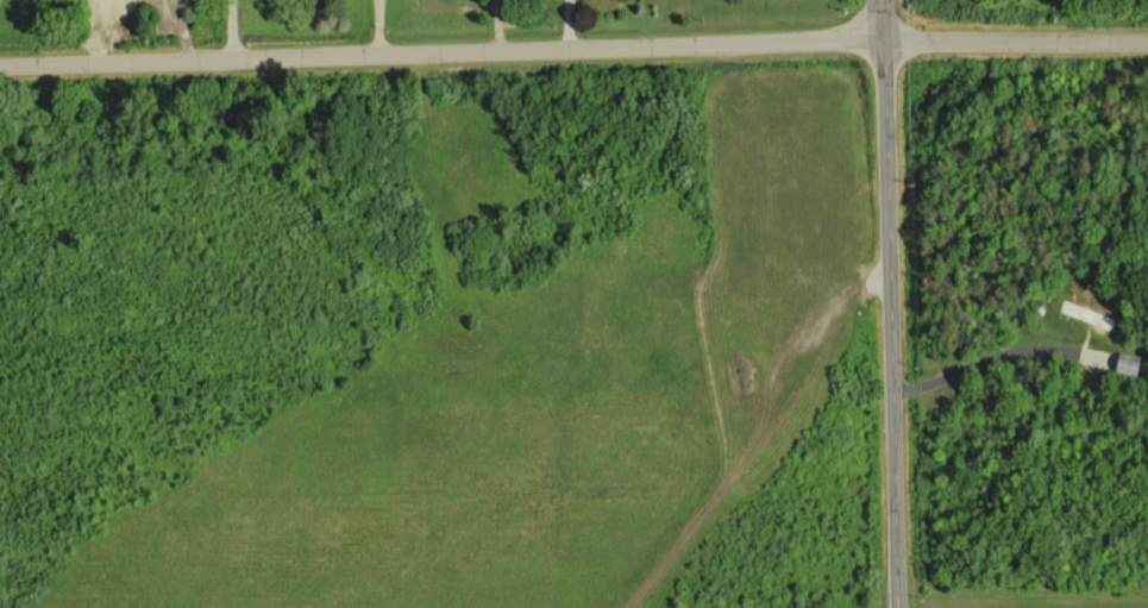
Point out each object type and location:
road: (237, 29)
road: (573, 48)
road: (889, 303)
road: (990, 357)
building: (1128, 363)

